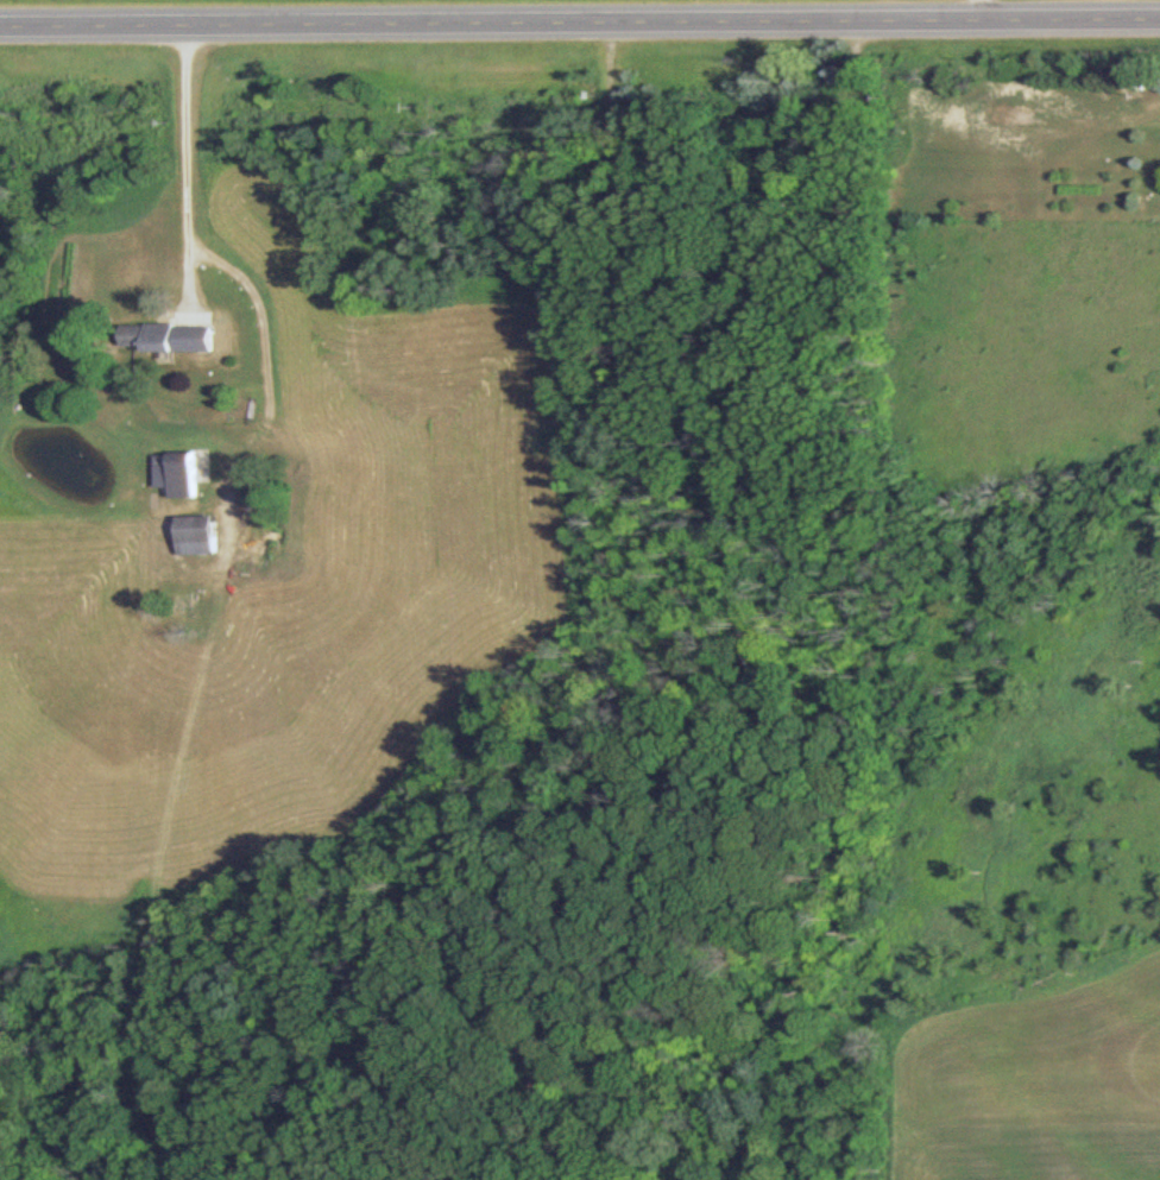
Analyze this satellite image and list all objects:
road: (580, 24)
building: (174, 337)
building: (178, 474)
building: (200, 536)
crop: (288, 593)
crop: (1033, 1075)

